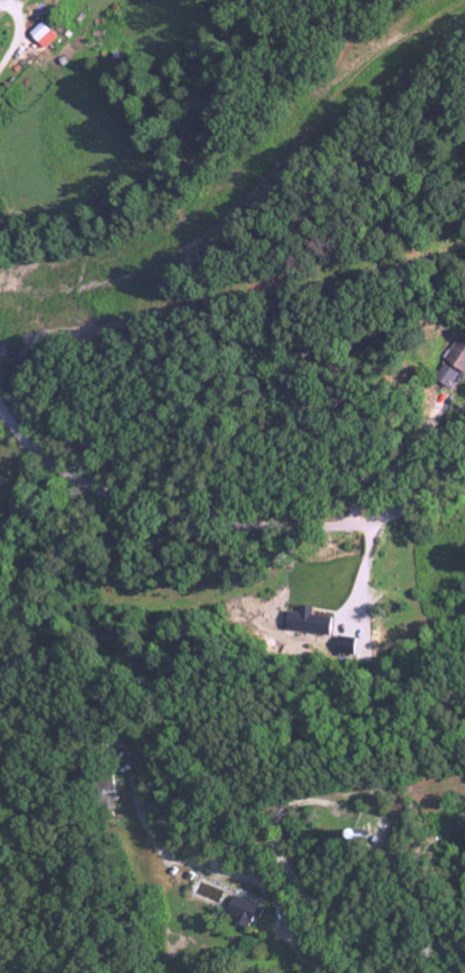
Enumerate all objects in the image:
building: (49, 35)
road: (12, 43)
road: (393, 466)
road: (221, 523)
road: (367, 574)
road: (239, 681)
road: (143, 840)
road: (301, 887)
building: (250, 911)

